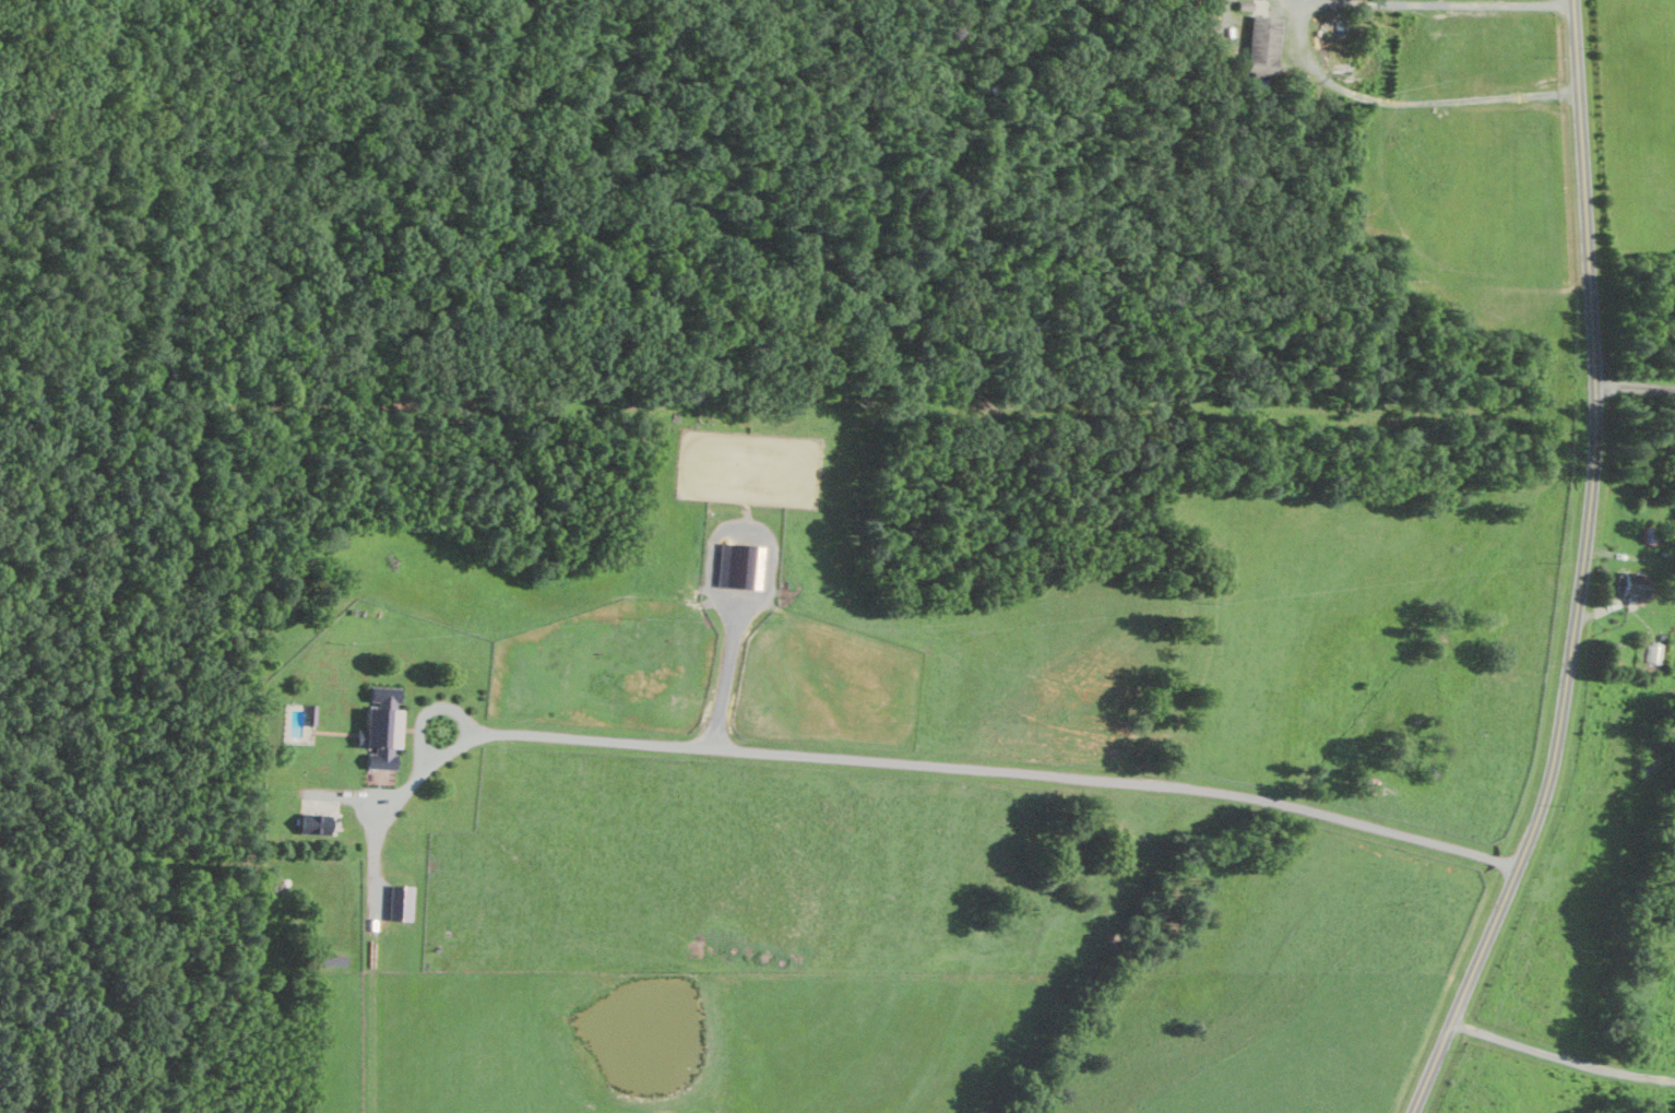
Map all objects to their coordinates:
building: (1266, 39)
road: (1303, 43)
road: (1636, 388)
road: (1584, 570)
road: (768, 576)
building: (1635, 585)
building: (1652, 652)
road: (986, 768)
road: (373, 910)
road: (1563, 1058)

